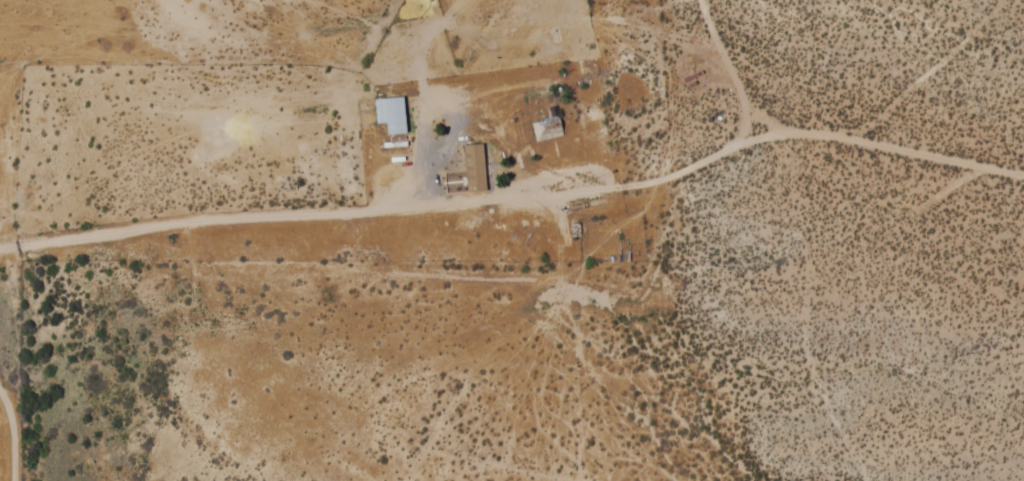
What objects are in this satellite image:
road: (735, 69)
building: (394, 106)
building: (549, 122)
building: (490, 148)
road: (518, 192)
road: (503, 338)
road: (11, 429)

